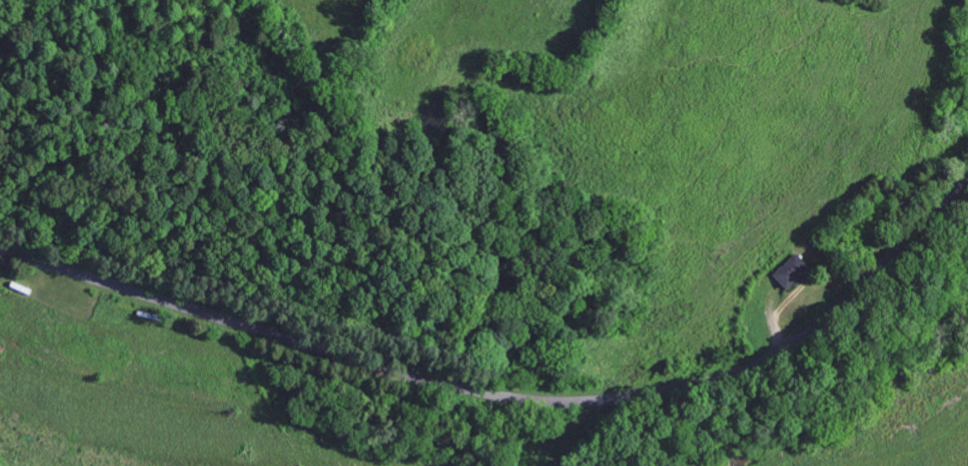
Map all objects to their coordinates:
building: (789, 272)
road: (511, 392)

